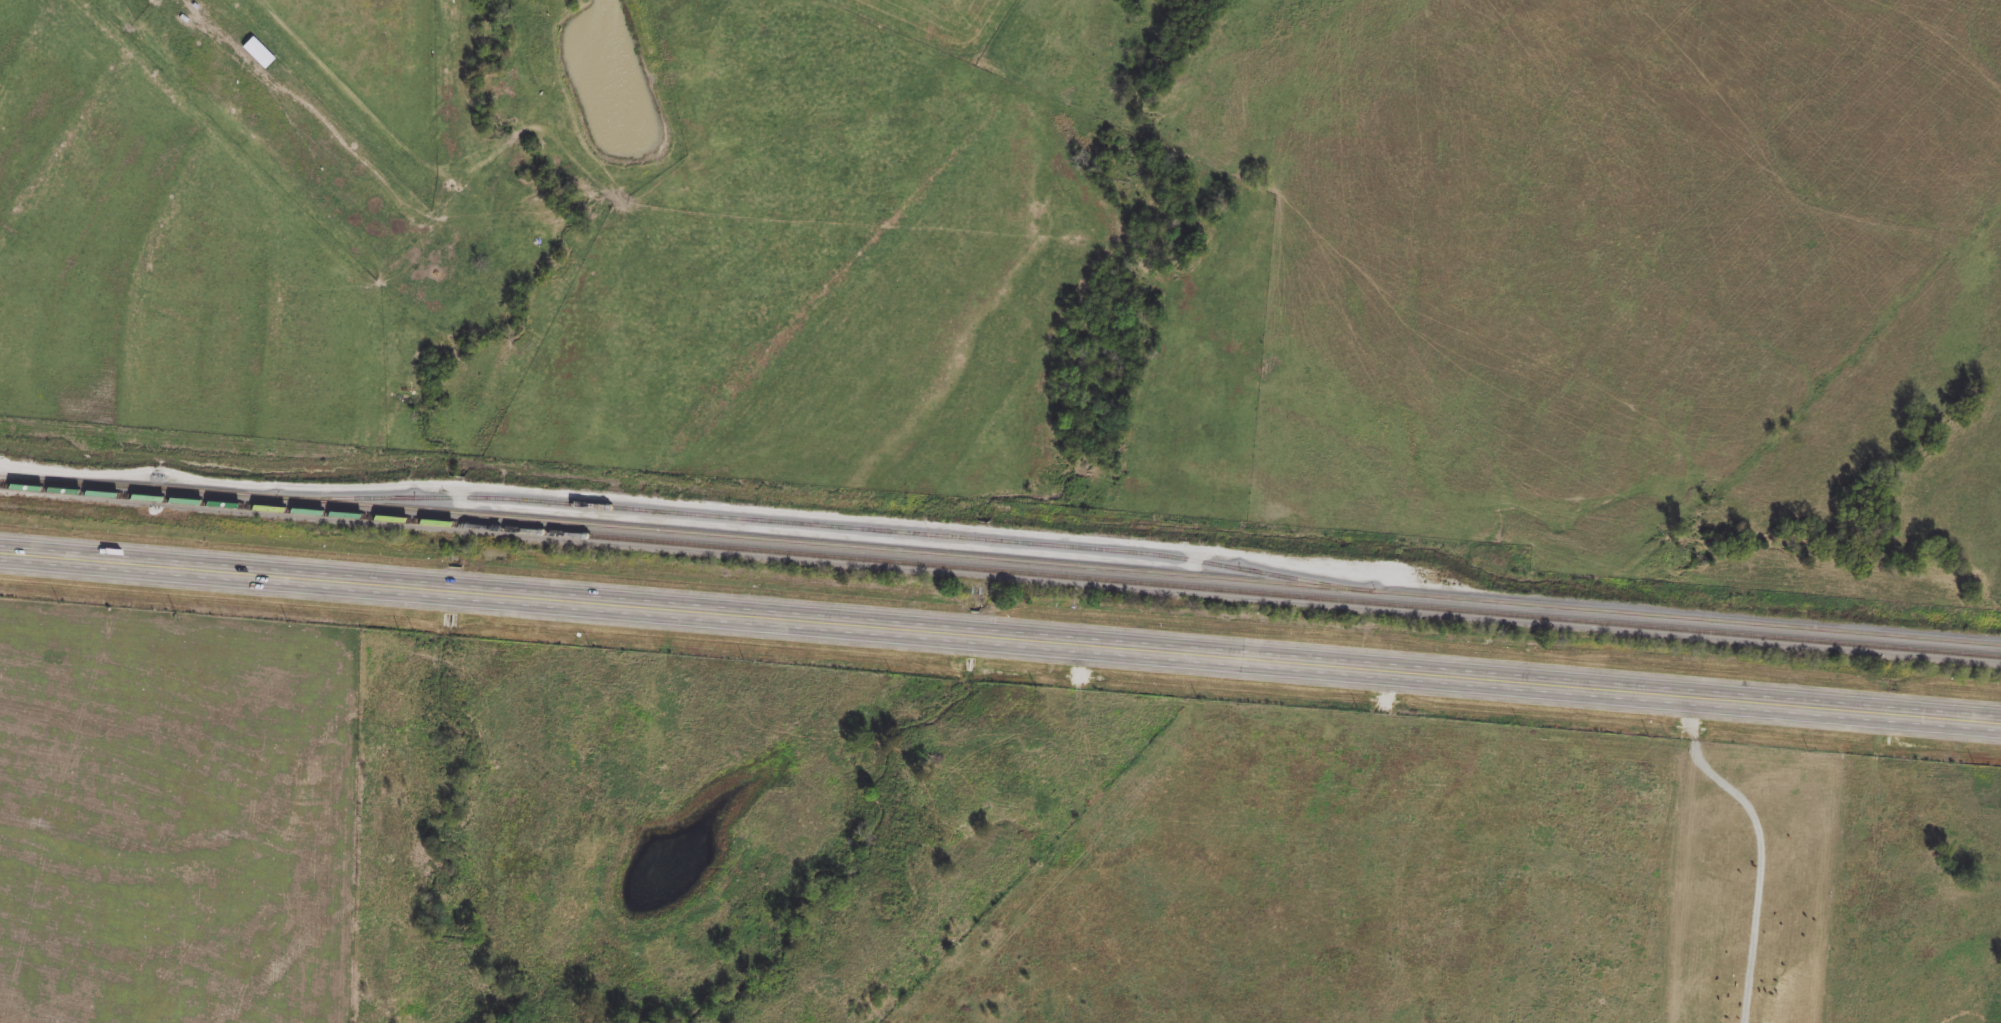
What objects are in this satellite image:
railway: (826, 523)
railway: (1000, 558)
railway: (1000, 570)
road: (1000, 643)

